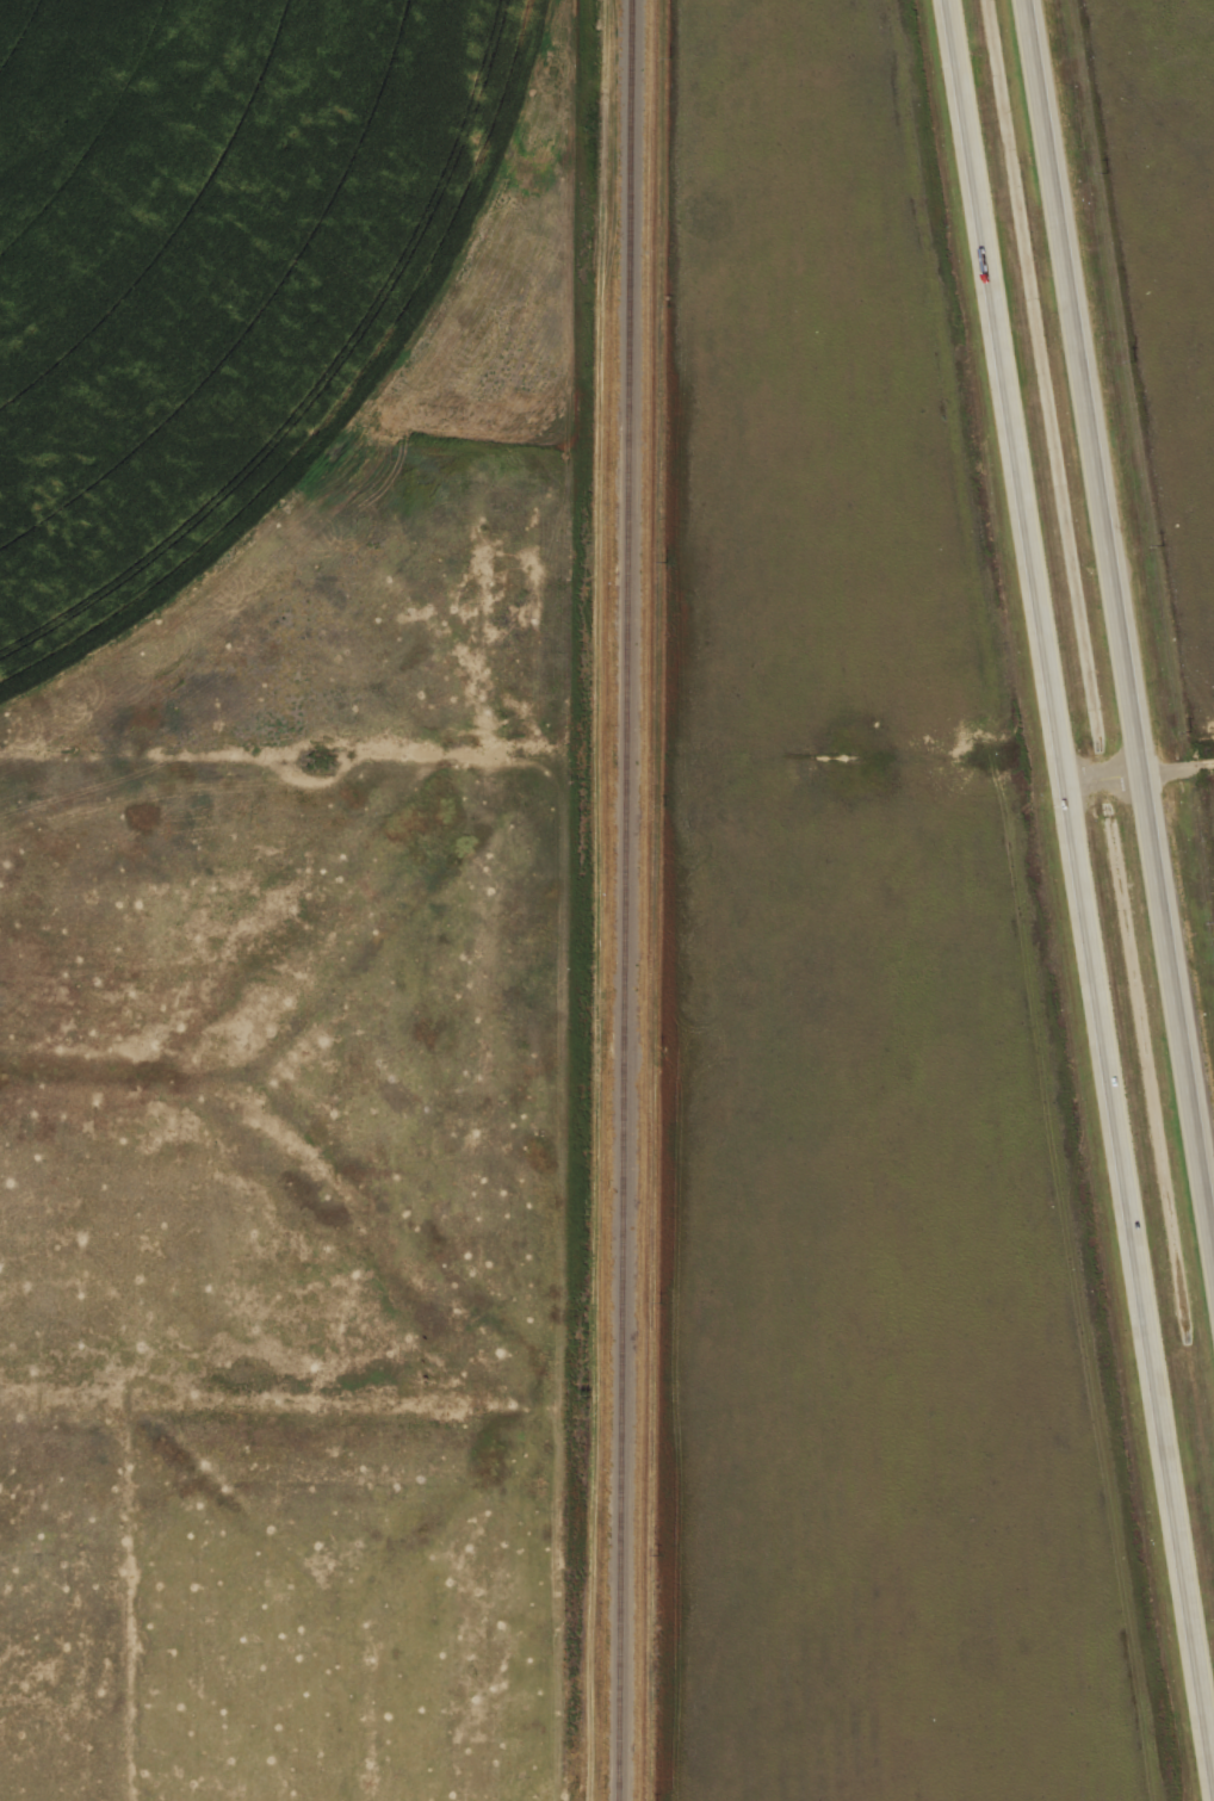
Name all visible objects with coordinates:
road: (1116, 648)
road: (1098, 778)
road: (1078, 893)
railway: (623, 900)

